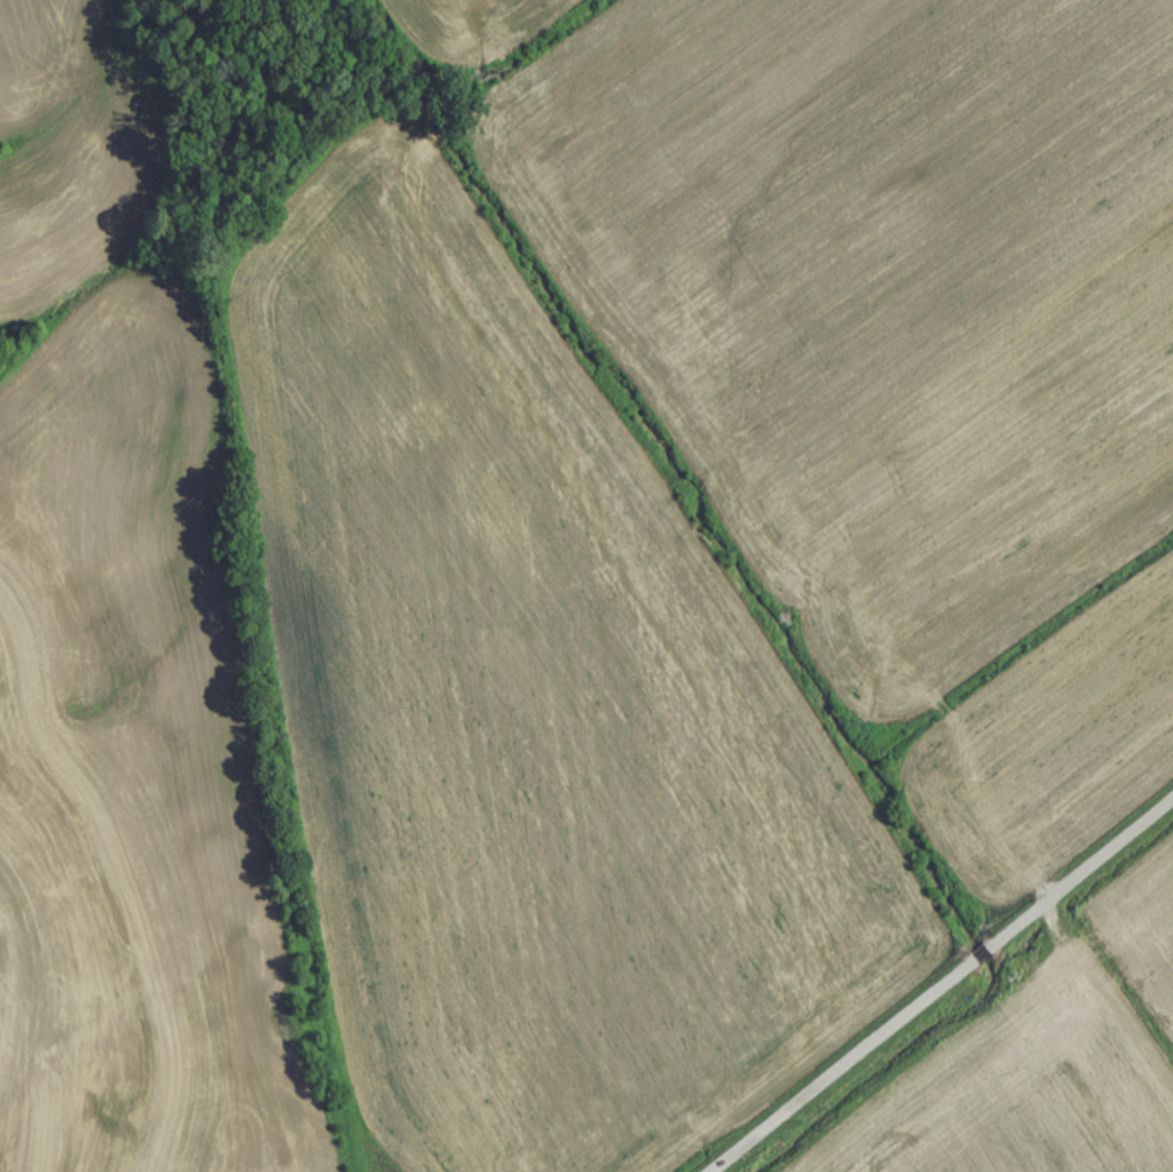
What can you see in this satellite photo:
road: (928, 980)

